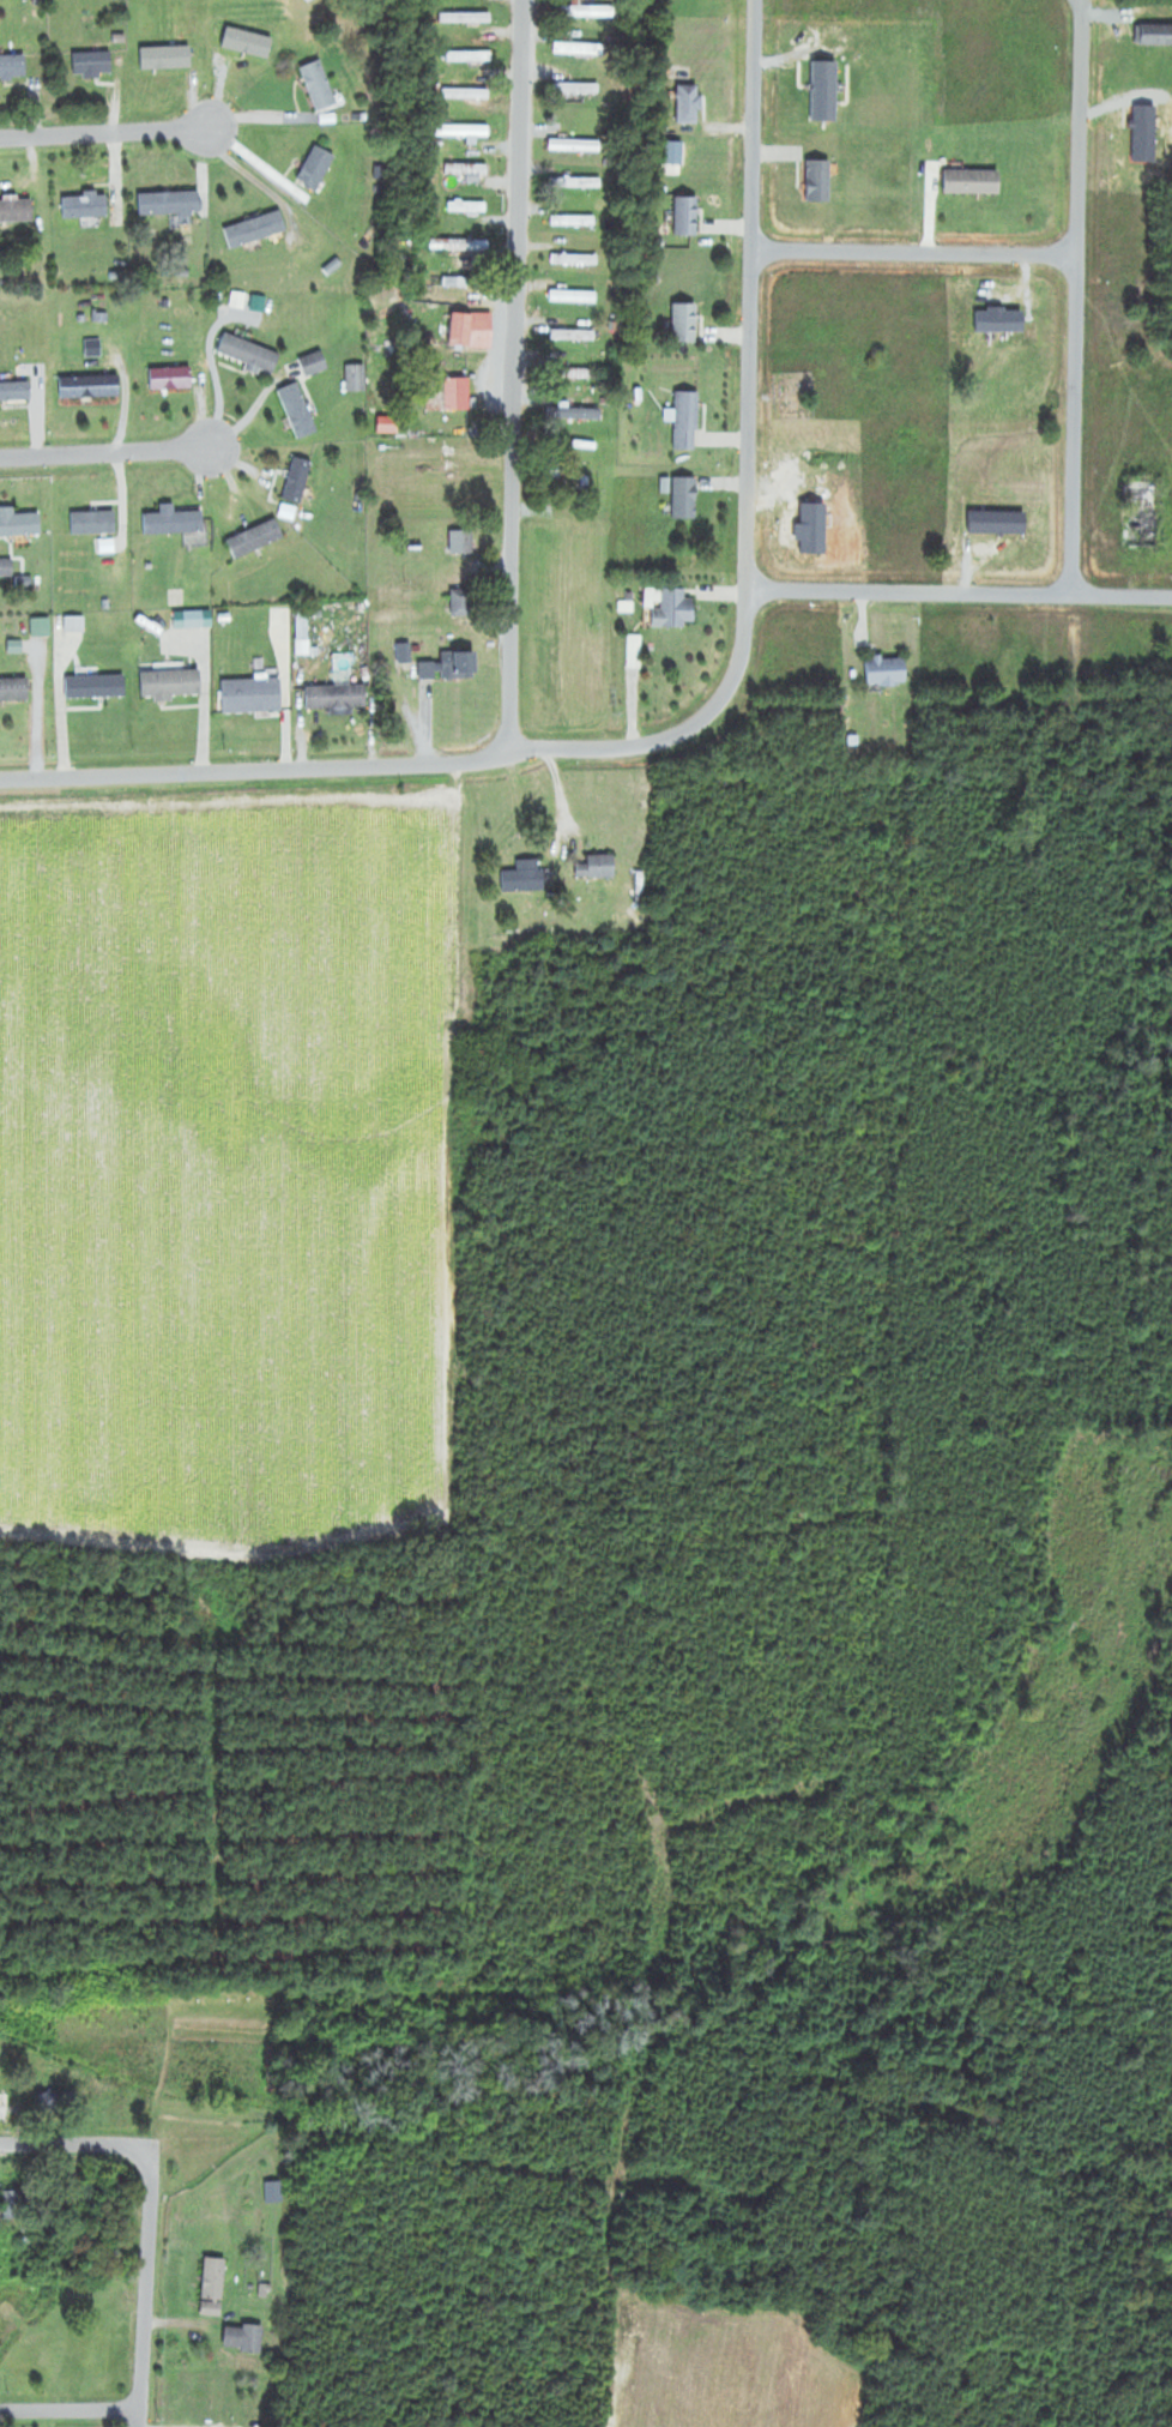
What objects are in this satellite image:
building: (586, 11)
building: (465, 18)
building: (1154, 36)
building: (471, 58)
building: (92, 65)
building: (13, 66)
building: (320, 86)
building: (575, 89)
building: (690, 104)
building: (464, 132)
road: (101, 135)
building: (575, 146)
building: (316, 170)
building: (467, 171)
building: (820, 182)
building: (585, 183)
building: (974, 183)
building: (170, 204)
building: (86, 206)
building: (467, 207)
building: (17, 211)
building: (688, 217)
building: (573, 221)
building: (256, 230)
building: (460, 246)
road: (917, 254)
building: (575, 261)
building: (458, 284)
building: (573, 297)
road: (1077, 299)
building: (685, 324)
building: (473, 331)
building: (570, 336)
building: (249, 354)
building: (315, 365)
building: (585, 374)
road: (516, 377)
building: (171, 379)
building: (356, 379)
building: (91, 387)
building: (16, 392)
building: (449, 396)
building: (300, 411)
building: (581, 415)
building: (687, 422)
road: (105, 450)
road: (754, 464)
building: (298, 481)
building: (685, 499)
building: (174, 522)
building: (20, 524)
building: (95, 524)
building: (256, 538)
building: (463, 542)
road: (962, 596)
building: (464, 602)
building: (676, 610)
building: (75, 625)
building: (452, 668)
building: (888, 673)
building: (171, 685)
building: (97, 687)
building: (14, 691)
building: (253, 697)
building: (337, 699)
road: (256, 775)
building: (603, 868)
building: (526, 878)
building: (58, 2103)
building: (5, 2107)
building: (273, 2192)
building: (14, 2205)
road: (151, 2210)
building: (213, 2287)
building: (243, 2339)
road: (71, 2415)

